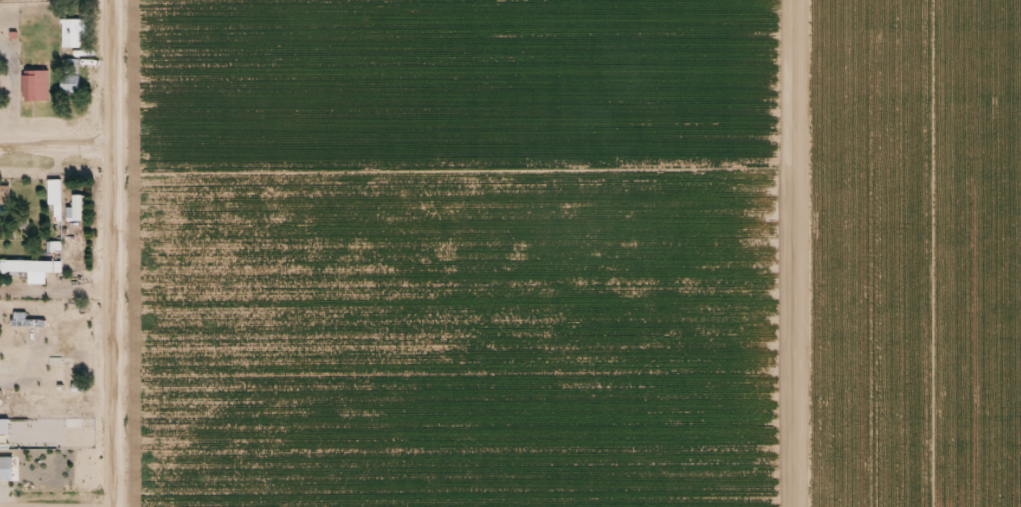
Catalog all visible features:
building: (69, 33)
building: (68, 75)
building: (34, 78)
road: (53, 144)
building: (3, 199)
building: (52, 200)
building: (74, 209)
road: (107, 253)
road: (799, 253)
building: (30, 269)
road: (54, 293)
building: (24, 321)
building: (19, 430)
building: (5, 469)

